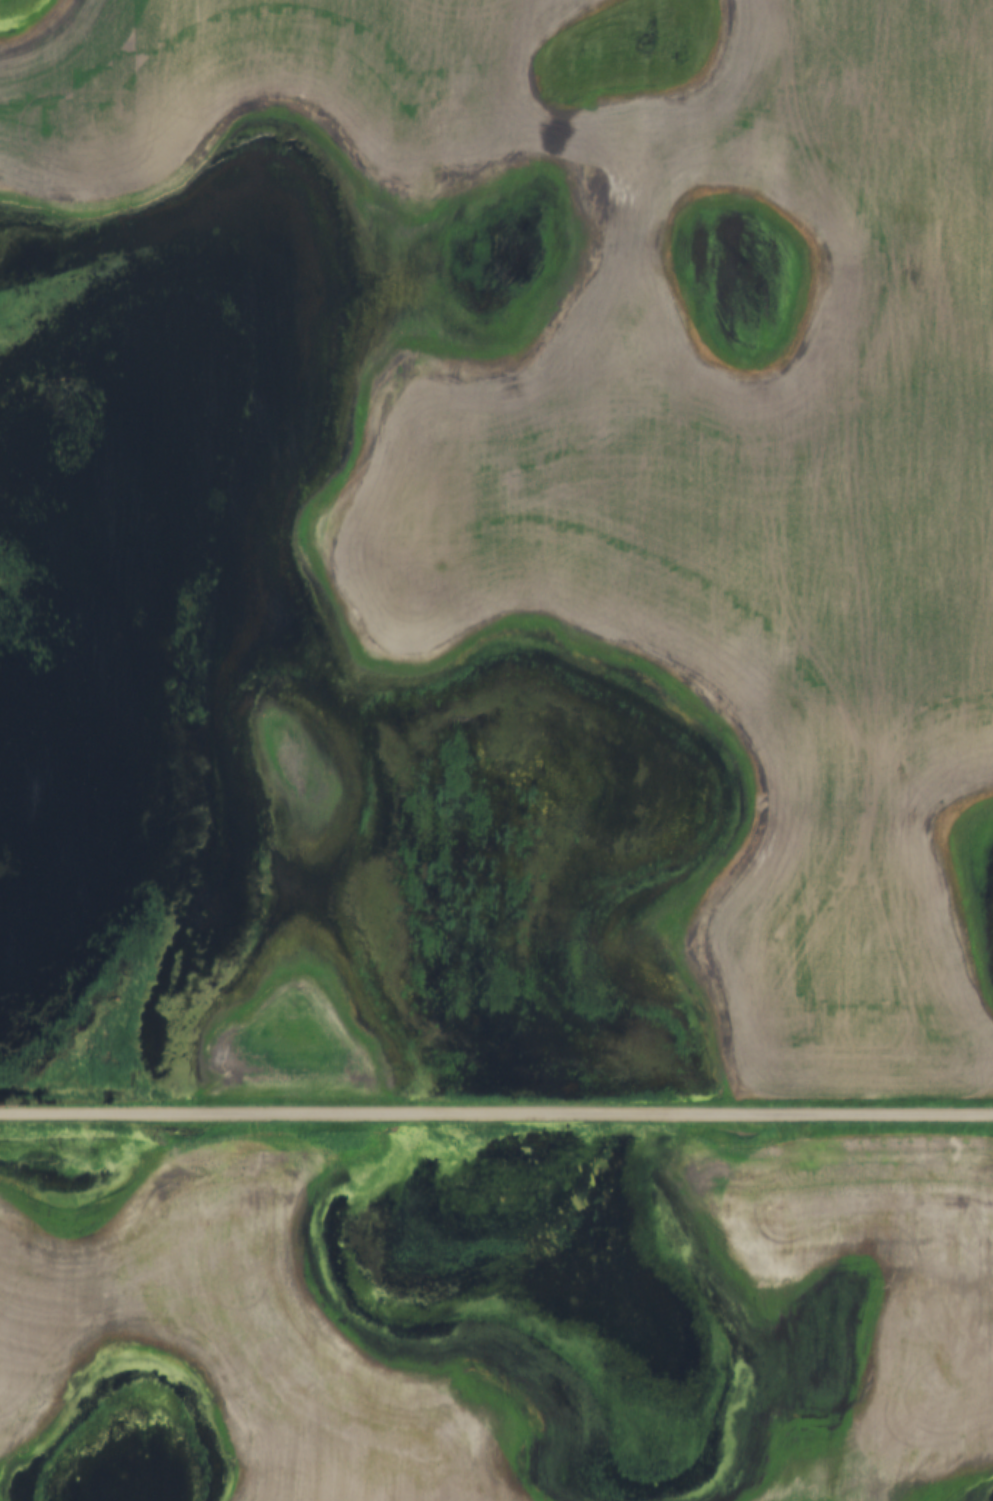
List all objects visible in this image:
road: (496, 1114)

